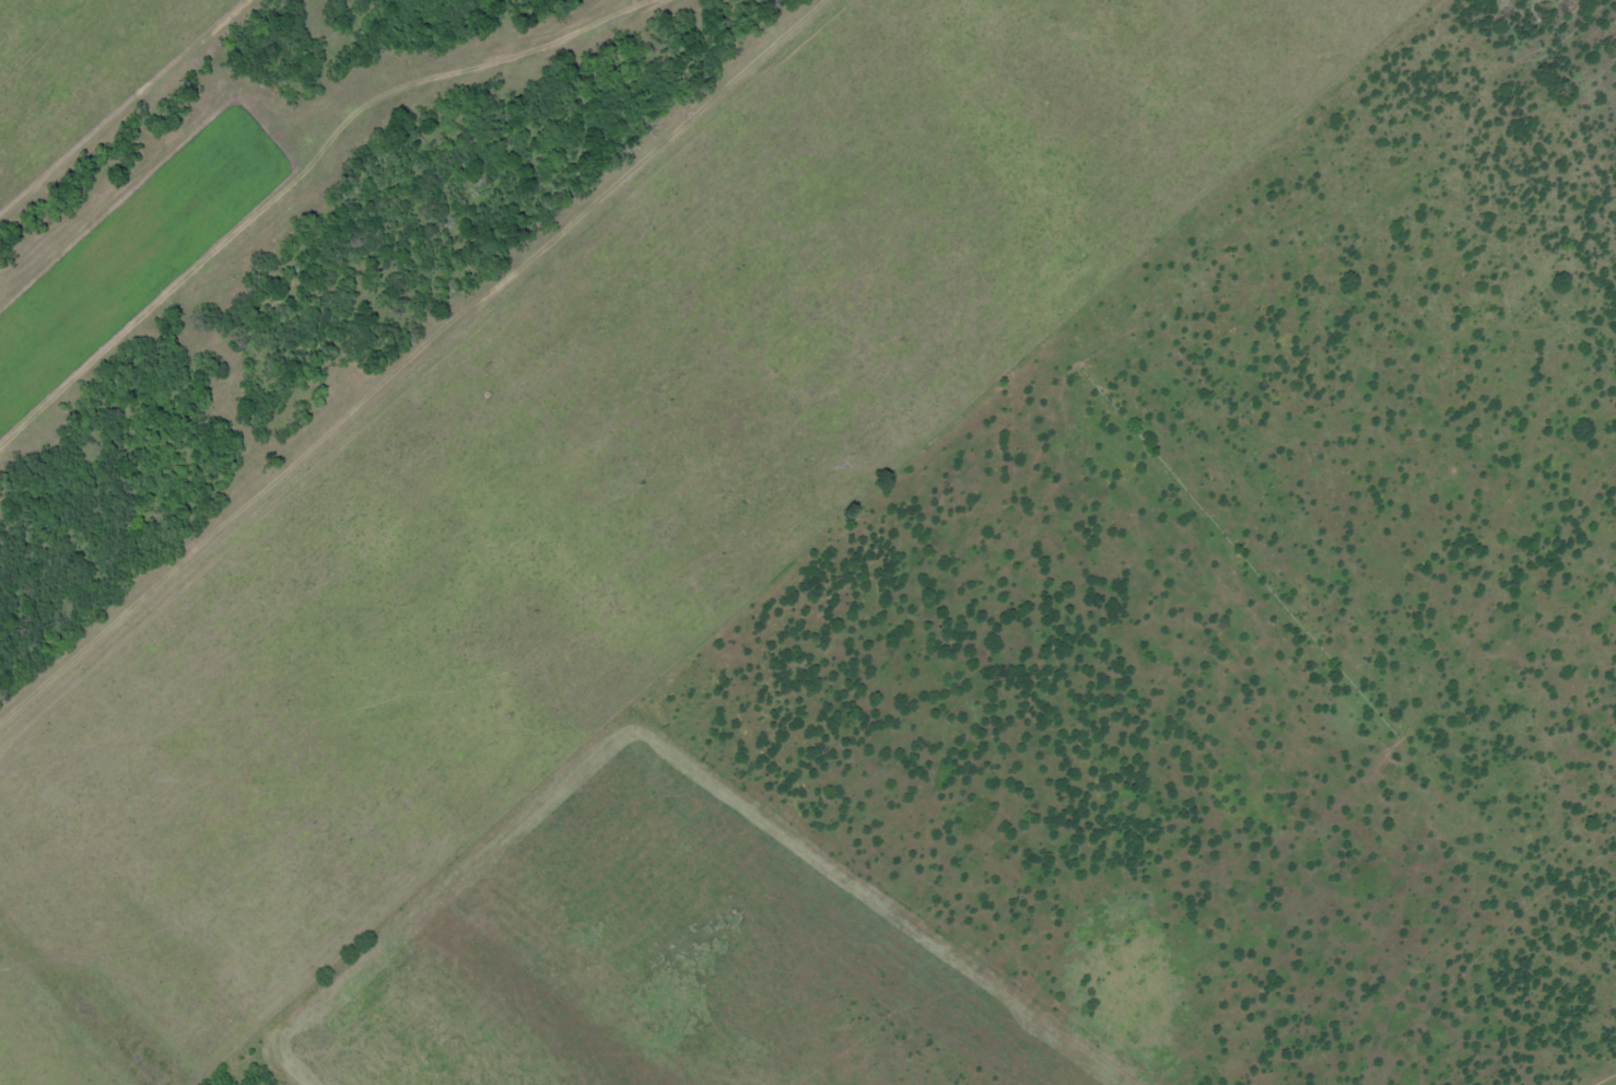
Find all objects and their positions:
road: (851, 530)

